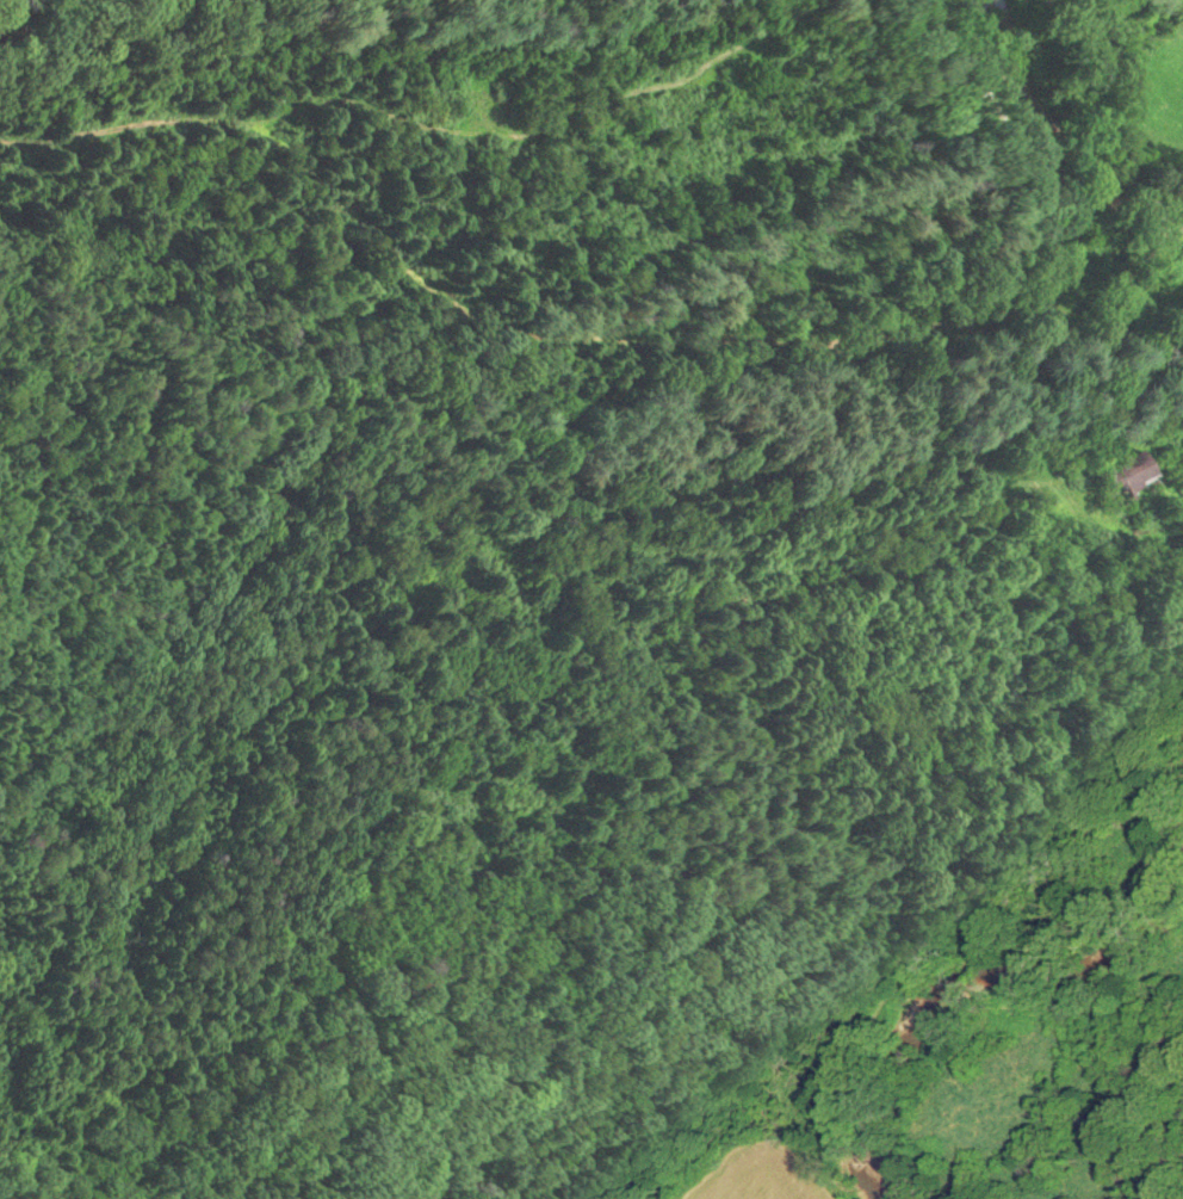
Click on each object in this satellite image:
river: (1049, 143)
building: (1128, 476)
river: (959, 981)

